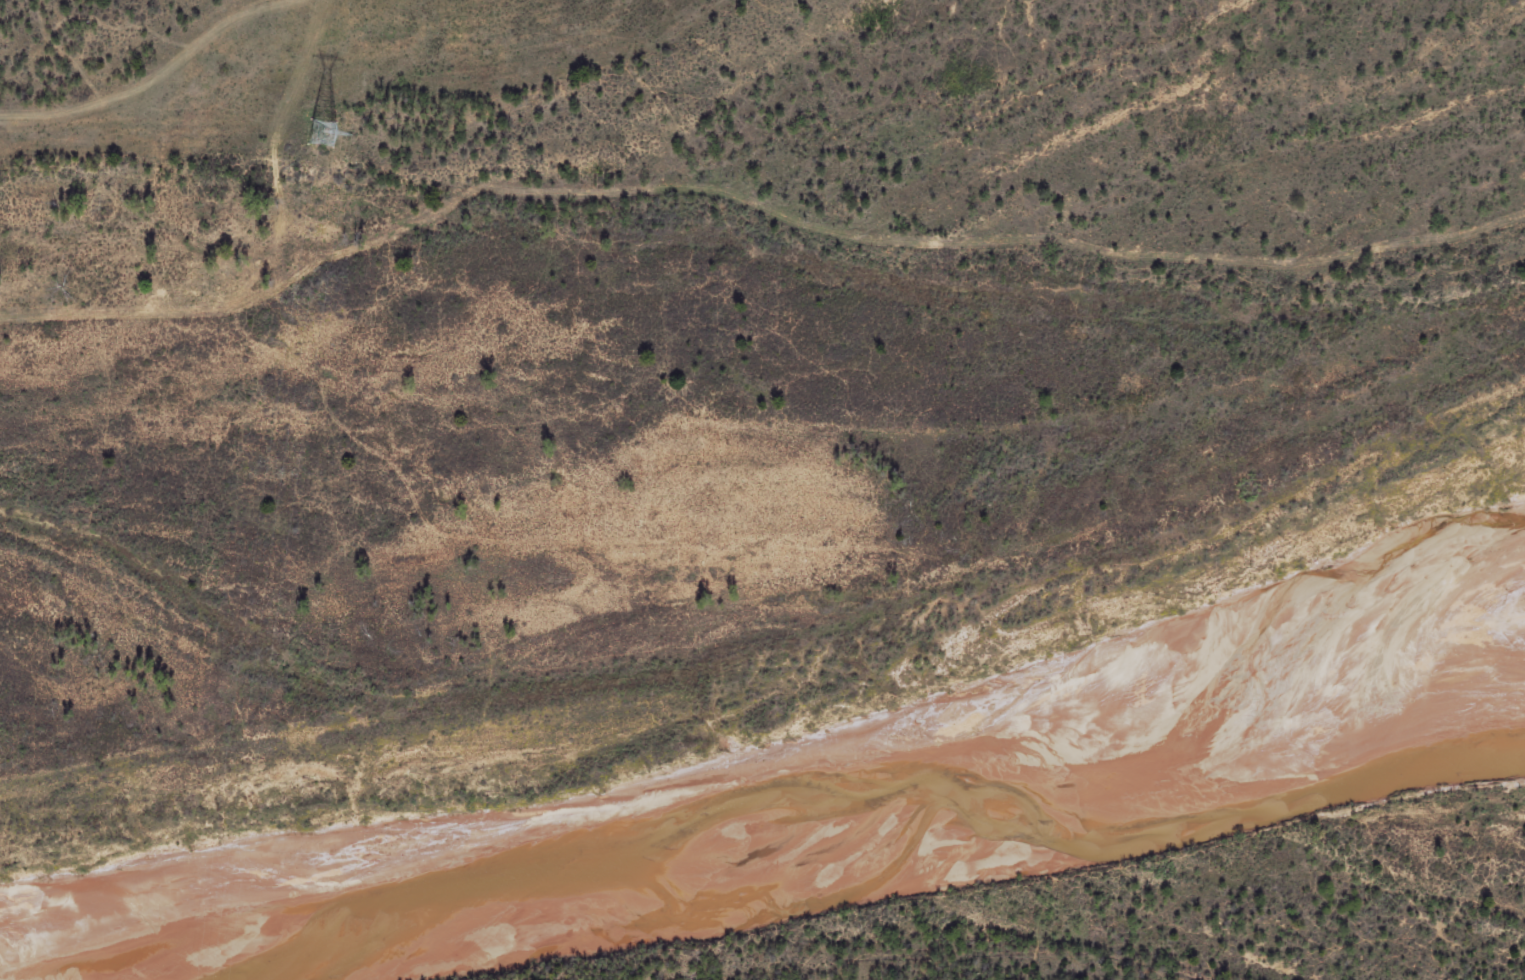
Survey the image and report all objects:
power tower: (322, 135)
road: (749, 202)
river: (882, 862)

